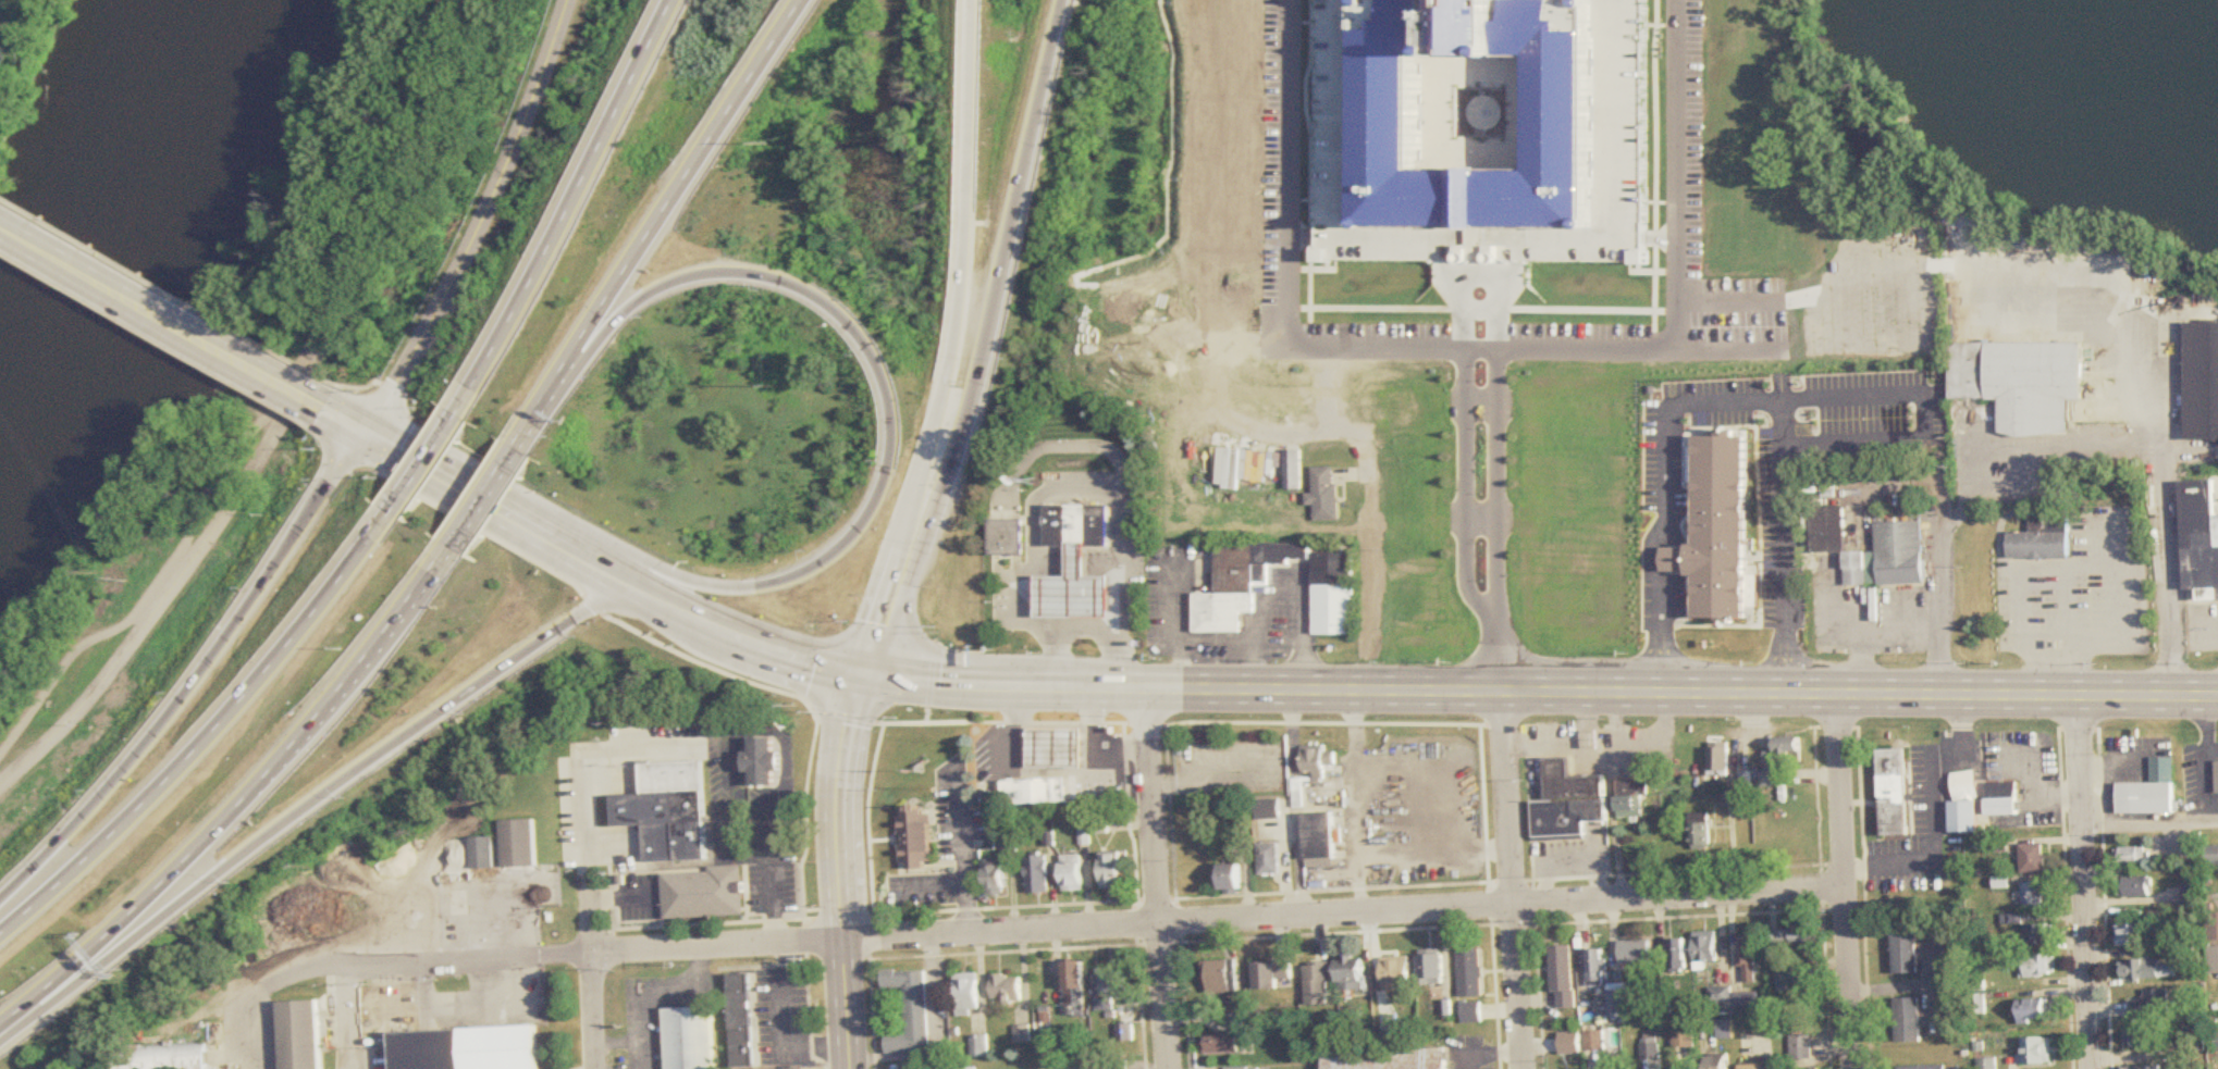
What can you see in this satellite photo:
building: (1499, 138)
road: (1294, 174)
road: (1681, 174)
road: (578, 209)
river: (131, 213)
road: (488, 224)
road: (662, 224)
road: (1950, 269)
road: (169, 289)
road: (165, 316)
road: (1771, 325)
road: (957, 341)
road: (989, 343)
road: (1488, 351)
building: (2021, 382)
building: (2202, 382)
road: (368, 387)
road: (891, 389)
road: (1331, 390)
road: (264, 403)
road: (1924, 409)
road: (347, 422)
road: (283, 423)
traffic signals: (365, 432)
road: (1298, 433)
road: (1079, 448)
road: (432, 461)
building: (1293, 470)
road: (1664, 486)
road: (1964, 486)
road: (466, 487)
building: (1324, 494)
road: (1072, 496)
road: (486, 498)
road: (2165, 512)
road: (1487, 523)
building: (1077, 524)
building: (1720, 529)
building: (1006, 537)
building: (1899, 537)
building: (2042, 539)
building: (2201, 543)
road: (1784, 562)
road: (1371, 564)
road: (603, 568)
building: (1240, 581)
building: (1075, 588)
road: (1283, 588)
building: (1333, 594)
road: (1175, 625)
road: (1079, 630)
road: (1872, 635)
road: (1215, 638)
road: (749, 641)
traffic signals: (866, 672)
road: (200, 681)
road: (1541, 694)
road: (213, 736)
building: (1058, 747)
building: (1720, 758)
building: (1778, 758)
building: (763, 762)
building: (1310, 767)
building: (2216, 776)
building: (1036, 790)
building: (2149, 791)
building: (1894, 792)
building: (1631, 798)
building: (2001, 799)
building: (1568, 803)
building: (1963, 803)
road: (245, 805)
road: (311, 806)
building: (1269, 809)
building: (676, 810)
road: (2151, 826)
building: (1700, 832)
building: (915, 837)
building: (1319, 840)
building: (520, 843)
road: (963, 846)
road: (1935, 850)
building: (483, 853)
building: (2211, 855)
building: (2130, 856)
building: (1270, 858)
building: (2033, 858)
road: (774, 869)
road: (839, 869)
building: (1112, 870)
building: (1037, 873)
building: (1073, 873)
building: (1233, 878)
road: (1157, 879)
building: (996, 880)
road: (1512, 881)
road: (1846, 881)
road: (929, 882)
road: (2086, 883)
building: (2135, 886)
building: (2034, 895)
building: (705, 899)
road: (593, 923)
road: (1034, 929)
building: (2038, 934)
building: (2132, 934)
building: (1789, 936)
building: (1706, 947)
building: (1906, 950)
building: (1635, 953)
building: (1677, 954)
building: (1747, 961)
building: (2037, 966)
building: (1597, 967)
building: (1432, 968)
building: (2147, 969)
building: (1397, 972)
building: (1470, 972)
building: (1352, 973)
building: (1273, 975)
building: (1222, 977)
building: (1563, 977)
building: (1113, 980)
building: (1787, 980)
building: (1319, 984)
building: (1074, 986)
building: (1007, 989)
building: (969, 993)
building: (1720, 999)
building: (1105, 1004)
building: (1750, 1004)
building: (2152, 1004)
building: (2033, 1009)
building: (910, 1011)
building: (1471, 1012)
road: (348, 1018)
road: (793, 1019)
building: (1908, 1019)
building: (735, 1023)
building: (1725, 1030)
building: (1125, 1032)
building: (300, 1034)
building: (1022, 1034)
building: (1683, 1035)
building: (691, 1037)
building: (2145, 1037)
building: (1594, 1039)
building: (1223, 1043)
building: (981, 1047)
building: (1800, 1047)
building: (466, 1048)
building: (2038, 1051)
road: (1489, 1055)
building: (161, 1056)
building: (1389, 1059)
building: (1718, 1065)
building: (1119, 1067)
building: (1753, 1067)
building: (1922, 1067)
building: (965, 1068)
building: (1236, 1068)
building: (2143, 1068)

